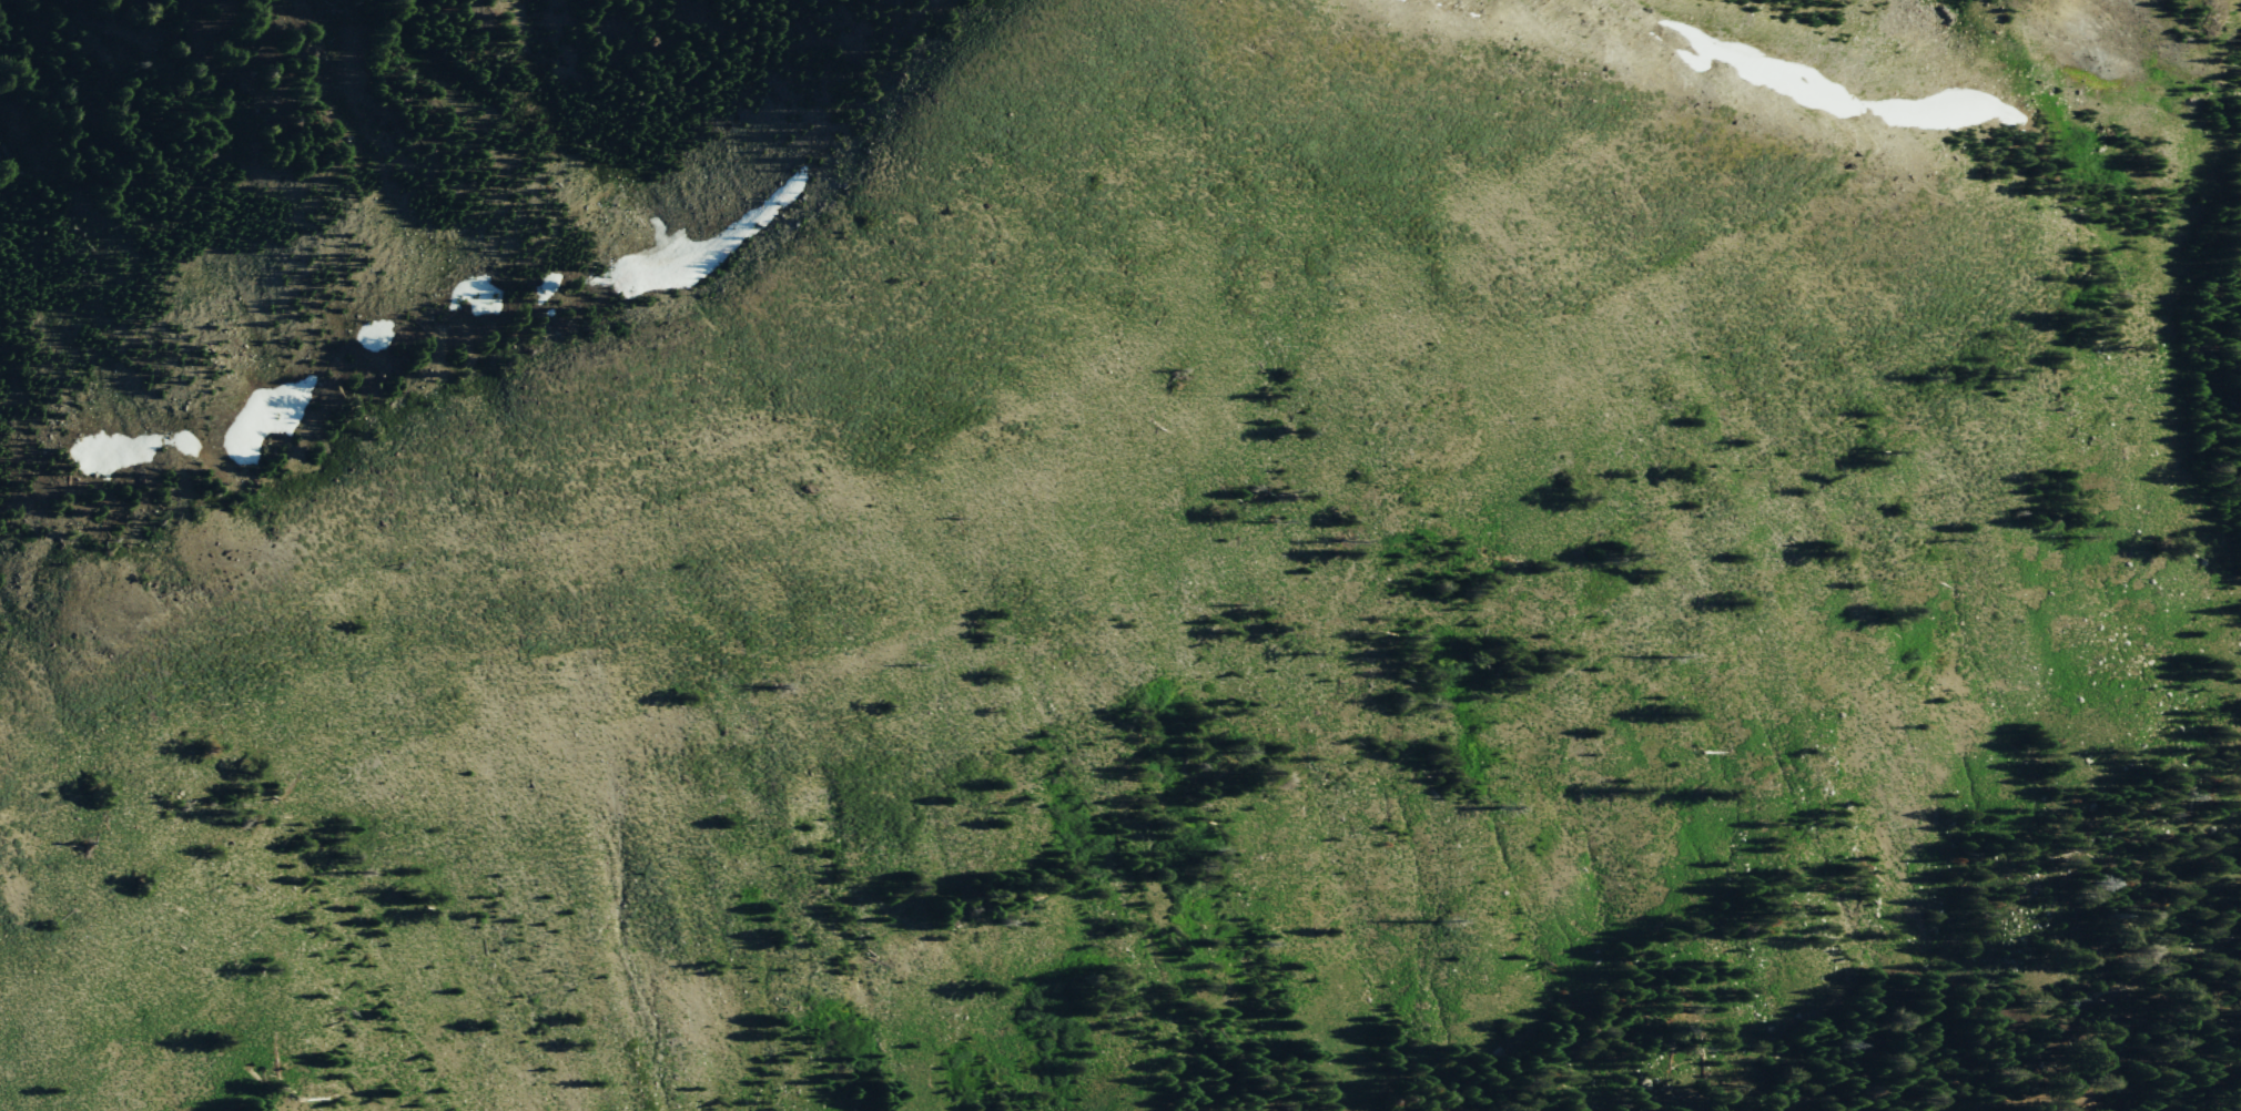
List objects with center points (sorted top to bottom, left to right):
road: (2109, 1085)

